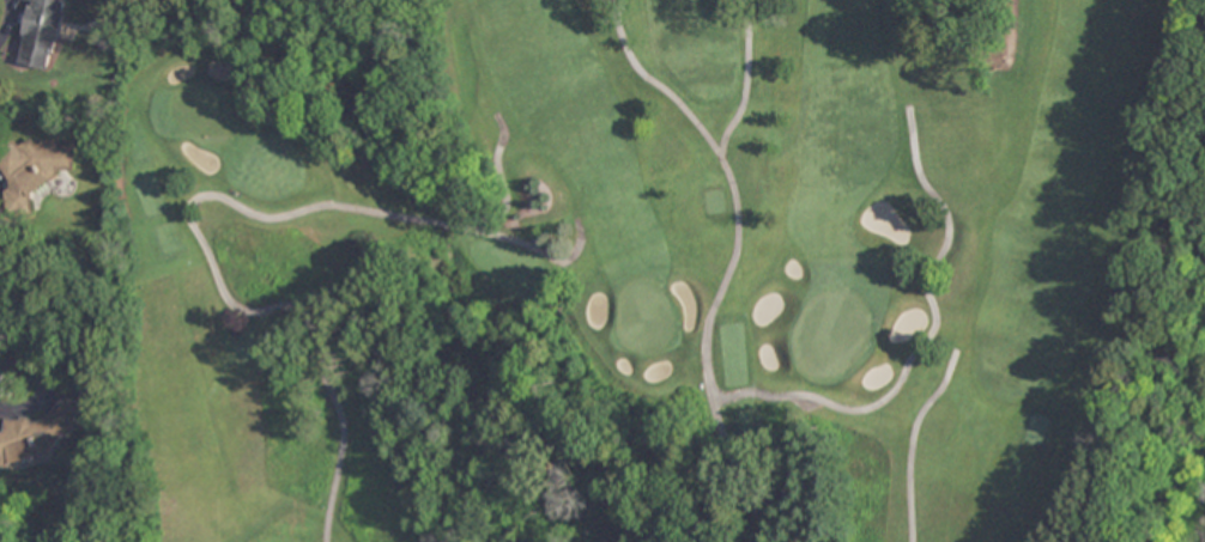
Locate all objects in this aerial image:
building: (40, 32)
road: (745, 81)
building: (31, 171)
road: (189, 207)
road: (732, 258)
park: (649, 270)
road: (932, 343)
building: (38, 434)
road: (912, 441)

